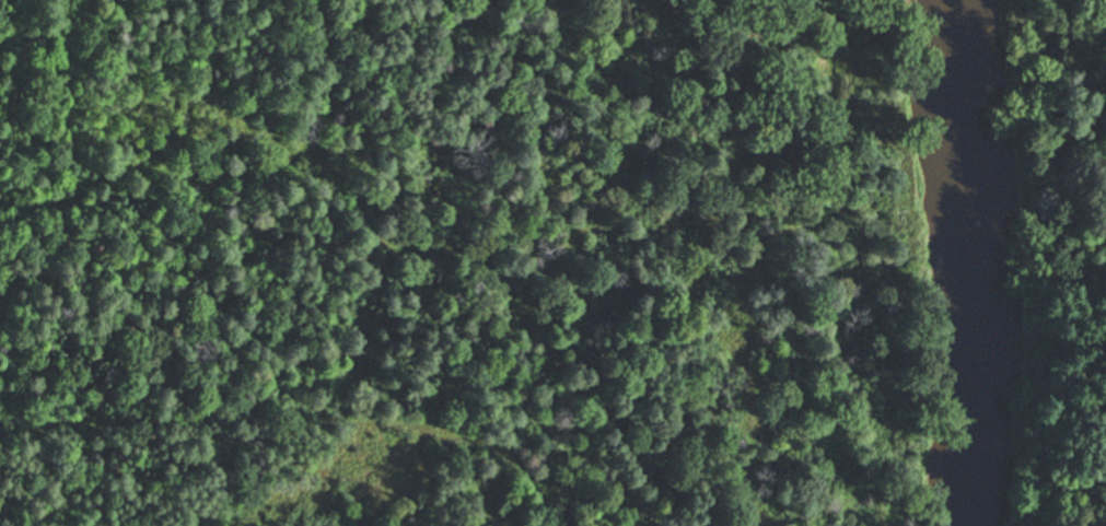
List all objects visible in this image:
river: (935, 3)
river: (973, 266)

